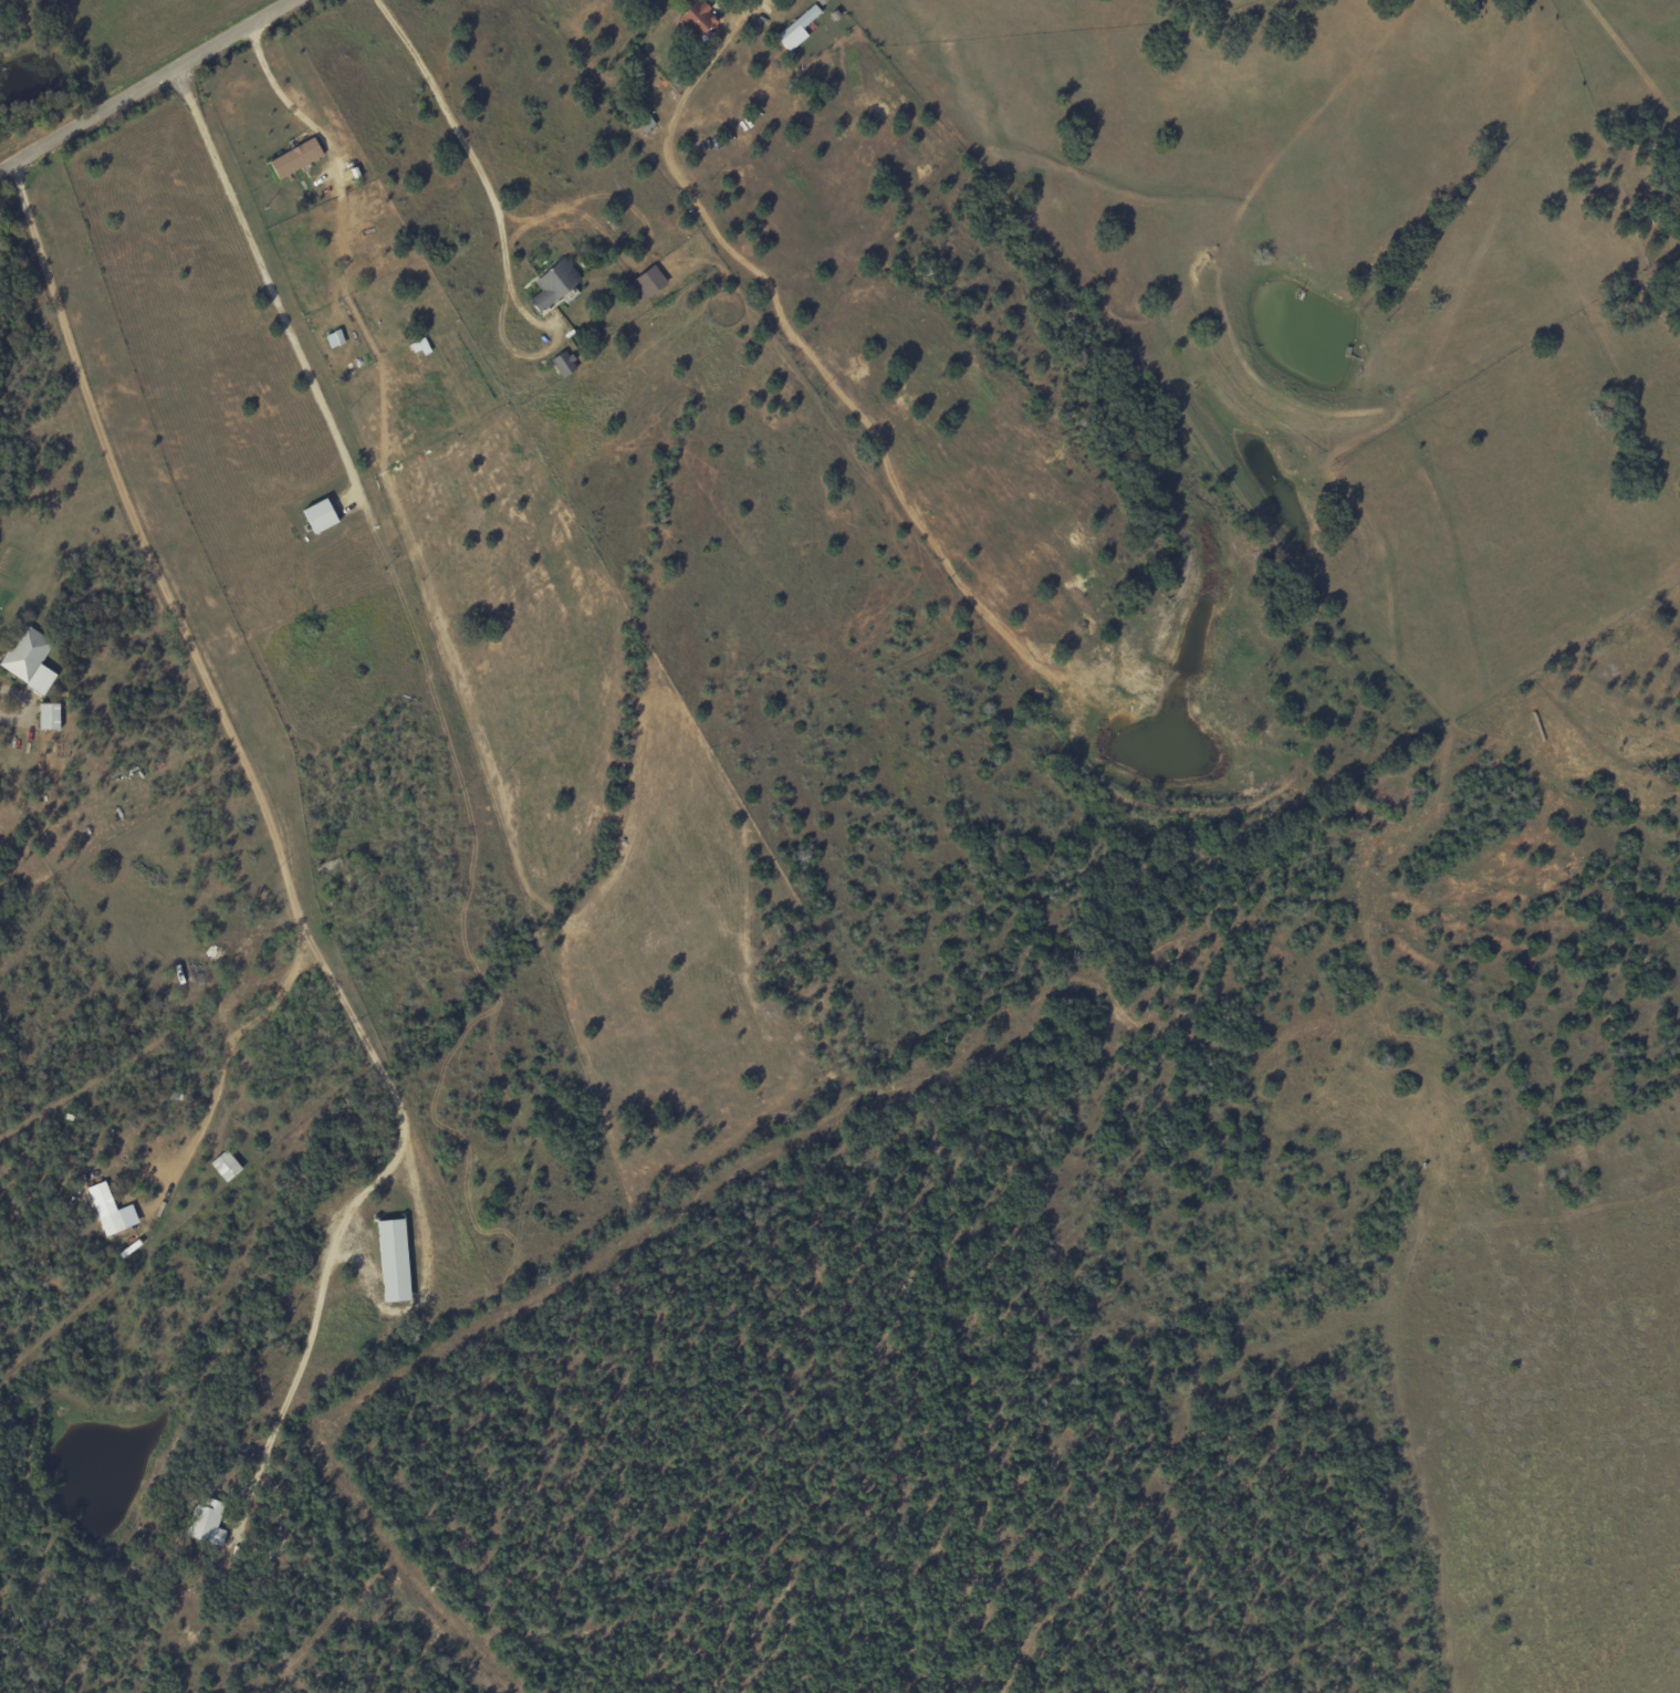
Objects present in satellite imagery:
road: (711, 1)
building: (821, 1)
building: (698, 18)
building: (796, 29)
road: (146, 85)
road: (285, 90)
building: (644, 122)
building: (294, 158)
road: (476, 164)
road: (274, 276)
building: (648, 281)
building: (554, 282)
building: (334, 338)
building: (419, 346)
building: (563, 363)
building: (319, 515)
building: (30, 659)
road: (30, 698)
building: (49, 715)
road: (265, 818)
road: (218, 1083)
building: (225, 1166)
building: (104, 1209)
building: (390, 1260)
building: (207, 1522)

